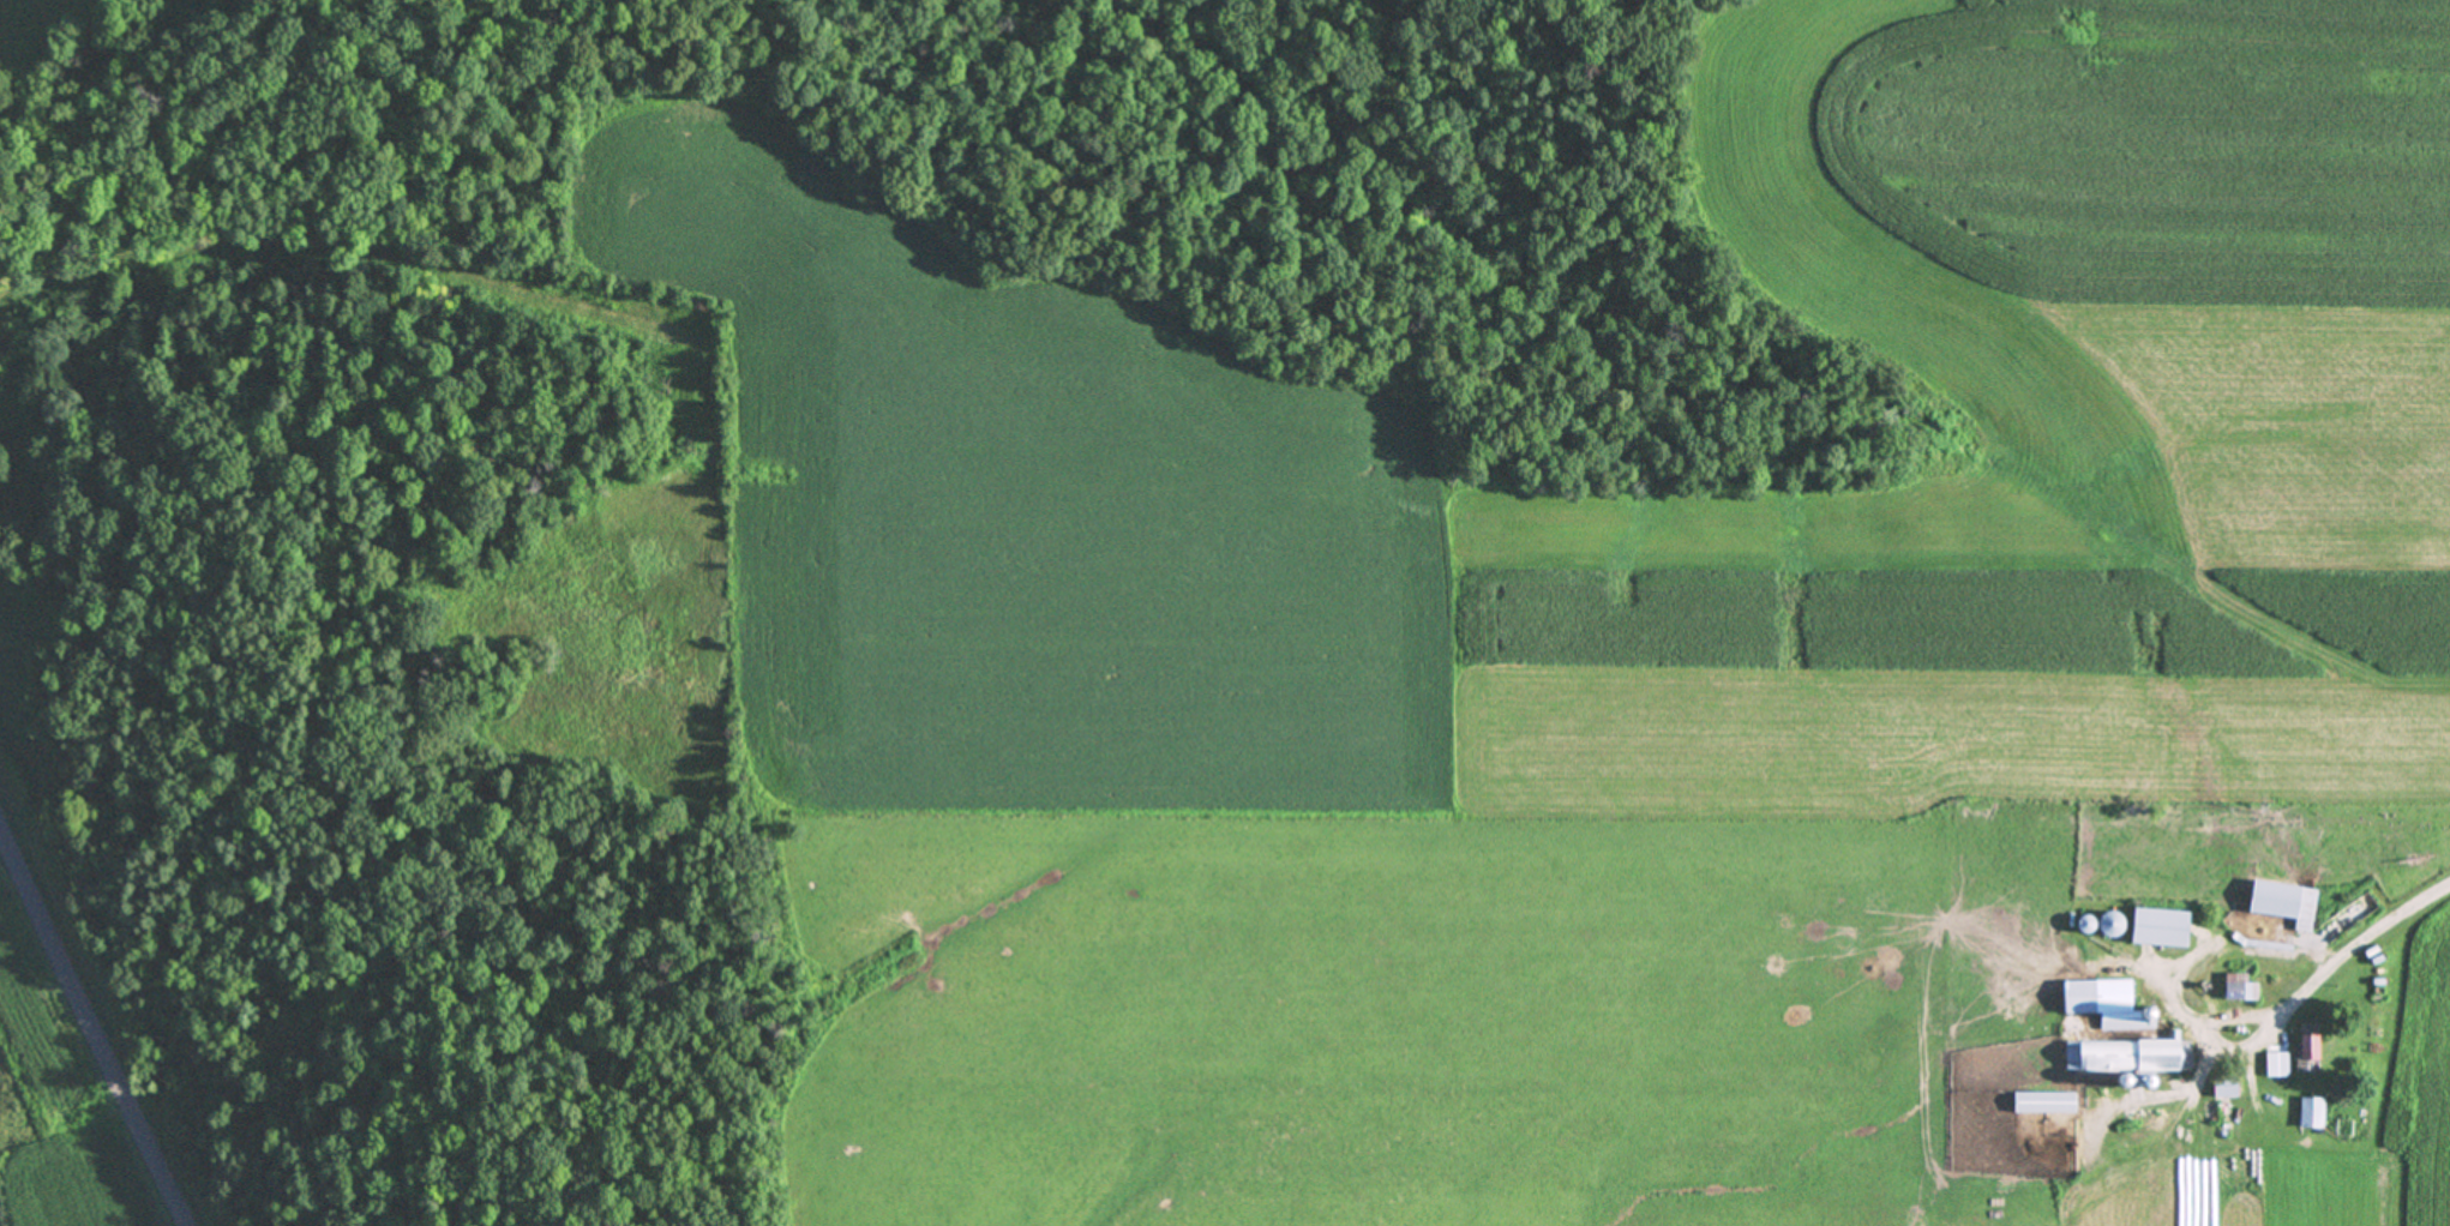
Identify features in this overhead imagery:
building: (2272, 899)
building: (2080, 922)
building: (2156, 925)
road: (2344, 952)
building: (2103, 1004)
road: (90, 1032)
building: (2304, 1046)
building: (2124, 1054)
building: (2274, 1063)
building: (2221, 1083)
building: (2040, 1101)
building: (2308, 1112)

